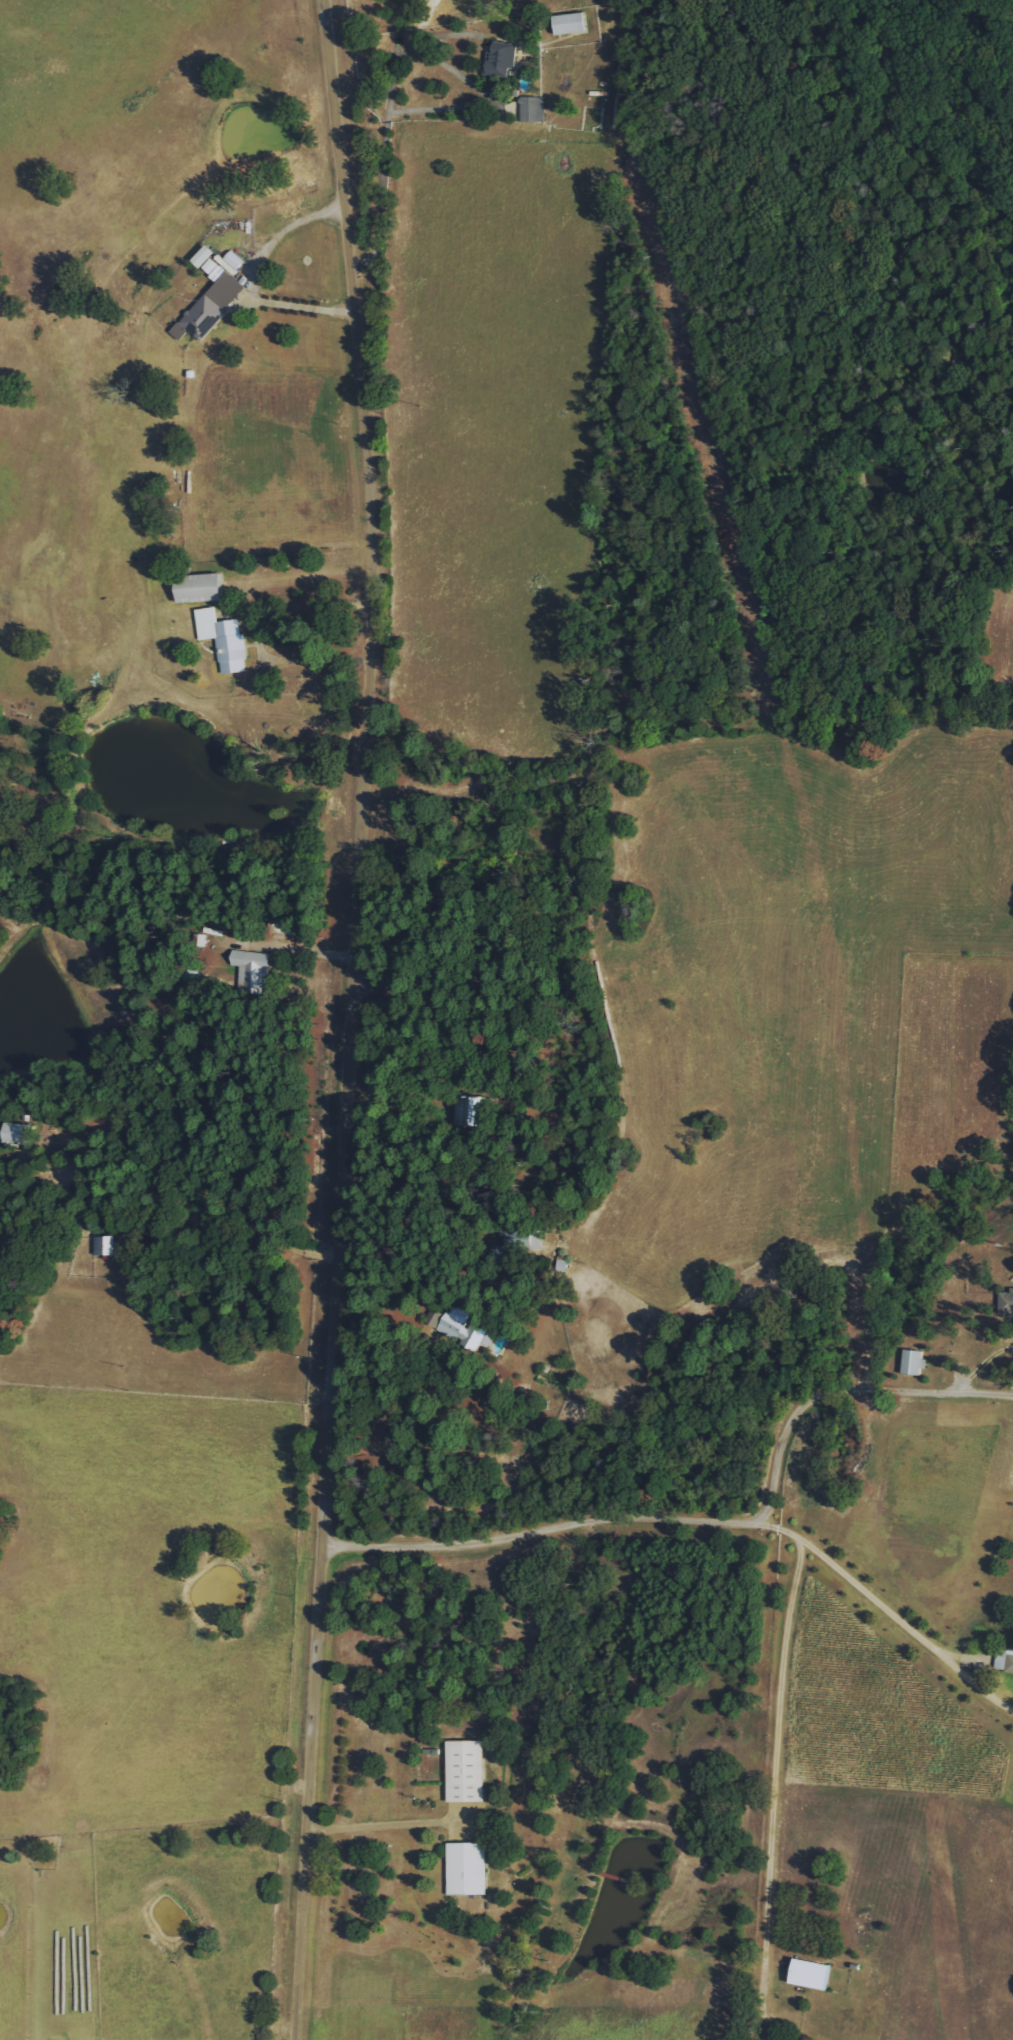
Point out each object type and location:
building: (570, 24)
building: (500, 60)
building: (532, 109)
building: (217, 263)
road: (252, 277)
building: (210, 308)
building: (199, 587)
building: (223, 639)
road: (288, 947)
building: (250, 970)
road: (353, 1019)
building: (466, 1112)
building: (18, 1134)
building: (106, 1246)
road: (952, 1259)
building: (1006, 1303)
building: (461, 1329)
building: (912, 1363)
road: (709, 1520)
road: (901, 1624)
building: (1004, 1660)
road: (780, 1761)
building: (465, 1772)
road: (385, 1831)
building: (466, 1869)
building: (811, 1975)

